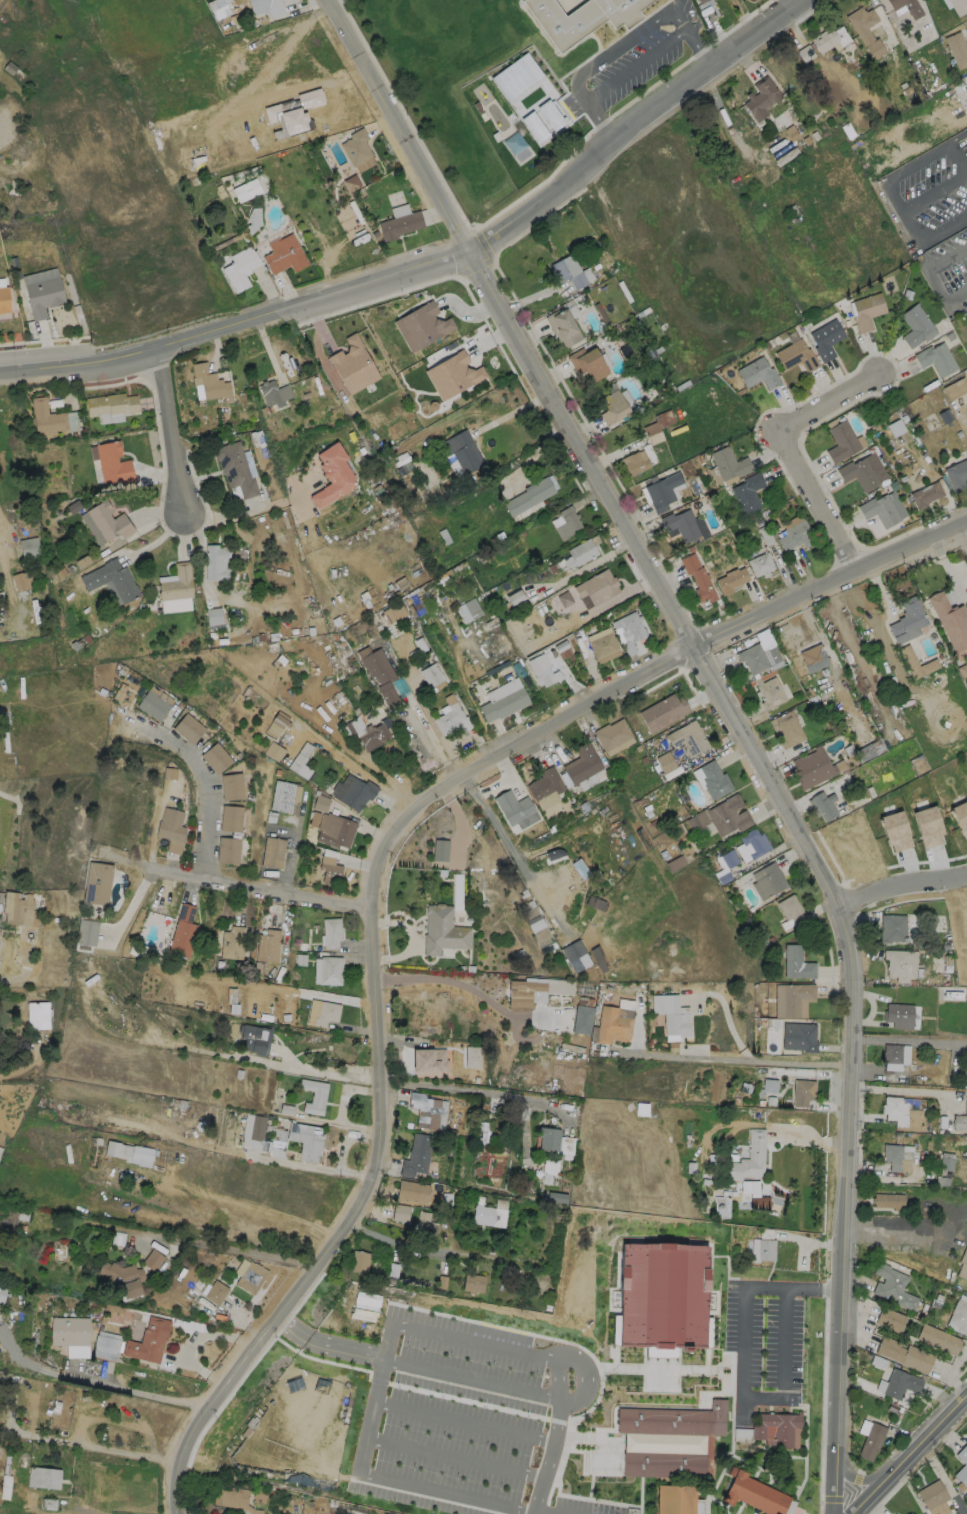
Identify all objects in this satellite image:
road: (0, 0)
building: (700, 1)
road: (790, 4)
building: (958, 6)
building: (275, 7)
building: (906, 7)
building: (220, 8)
building: (582, 19)
building: (865, 30)
building: (829, 41)
road: (621, 46)
building: (956, 49)
building: (805, 53)
building: (512, 98)
building: (761, 98)
building: (550, 114)
building: (535, 124)
road: (6, 133)
building: (966, 133)
building: (966, 139)
building: (355, 147)
building: (351, 183)
building: (246, 190)
road: (895, 195)
building: (253, 217)
building: (399, 224)
building: (284, 254)
road: (437, 262)
building: (239, 269)
building: (568, 271)
road: (932, 277)
building: (42, 296)
building: (4, 299)
building: (867, 311)
building: (421, 326)
building: (916, 326)
building: (562, 327)
building: (826, 339)
building: (796, 356)
building: (936, 359)
building: (587, 363)
building: (353, 365)
building: (757, 374)
building: (453, 375)
building: (209, 382)
building: (955, 388)
building: (271, 393)
building: (111, 404)
building: (612, 407)
building: (47, 417)
building: (657, 426)
building: (895, 427)
road: (176, 439)
building: (841, 442)
road: (791, 448)
building: (466, 452)
building: (634, 462)
building: (111, 463)
building: (729, 464)
building: (235, 468)
building: (858, 474)
building: (957, 475)
building: (332, 476)
building: (662, 491)
building: (747, 493)
building: (530, 495)
building: (925, 495)
building: (879, 510)
building: (107, 522)
building: (566, 523)
building: (680, 525)
building: (795, 535)
building: (28, 547)
road: (1, 550)
building: (579, 554)
building: (215, 562)
building: (760, 564)
building: (697, 577)
building: (731, 579)
building: (111, 580)
building: (21, 581)
building: (176, 584)
building: (597, 586)
building: (515, 597)
building: (468, 610)
building: (394, 612)
building: (213, 616)
building: (908, 619)
building: (950, 619)
building: (629, 629)
building: (603, 644)
building: (752, 658)
building: (812, 658)
building: (910, 661)
building: (375, 665)
building: (539, 668)
building: (431, 674)
building: (769, 693)
building: (504, 698)
building: (152, 704)
building: (663, 711)
building: (448, 718)
road: (730, 719)
building: (277, 723)
building: (187, 727)
building: (365, 731)
building: (788, 731)
building: (613, 733)
building: (689, 737)
road: (432, 739)
building: (274, 751)
building: (215, 757)
building: (301, 761)
building: (583, 763)
building: (667, 764)
building: (811, 767)
road: (357, 768)
building: (714, 779)
road: (501, 782)
road: (204, 784)
building: (546, 784)
building: (230, 785)
building: (353, 790)
building: (282, 796)
building: (321, 803)
building: (822, 805)
building: (515, 809)
building: (961, 815)
building: (721, 816)
building: (229, 817)
building: (170, 824)
building: (928, 825)
building: (335, 830)
building: (895, 830)
building: (752, 842)
building: (226, 849)
building: (440, 850)
building: (273, 851)
road: (515, 855)
building: (729, 859)
building: (329, 870)
road: (374, 875)
building: (770, 880)
building: (97, 882)
road: (247, 882)
road: (897, 888)
building: (594, 902)
building: (14, 906)
building: (790, 908)
building: (891, 927)
building: (443, 930)
building: (182, 931)
building: (87, 932)
building: (330, 932)
building: (541, 933)
building: (232, 942)
building: (267, 945)
building: (572, 950)
building: (796, 963)
building: (900, 963)
building: (330, 969)
road: (464, 987)
building: (535, 990)
building: (792, 999)
building: (326, 1013)
building: (670, 1014)
building: (898, 1014)
building: (38, 1015)
building: (581, 1019)
building: (611, 1025)
building: (798, 1036)
building: (255, 1038)
road: (908, 1040)
building: (894, 1055)
building: (429, 1059)
road: (730, 1059)
road: (320, 1072)
building: (764, 1076)
road: (472, 1090)
road: (898, 1090)
building: (802, 1093)
building: (313, 1095)
building: (633, 1102)
building: (894, 1109)
building: (428, 1110)
building: (960, 1118)
building: (257, 1127)
building: (546, 1137)
building: (306, 1140)
road: (346, 1141)
building: (0, 1149)
building: (129, 1152)
building: (417, 1154)
building: (897, 1156)
building: (749, 1157)
building: (947, 1161)
road: (309, 1166)
building: (548, 1166)
building: (412, 1190)
building: (754, 1195)
building: (889, 1199)
building: (400, 1212)
building: (488, 1214)
road: (247, 1216)
building: (424, 1223)
road: (894, 1231)
road: (399, 1243)
building: (765, 1248)
road: (228, 1249)
building: (153, 1260)
building: (359, 1261)
building: (963, 1263)
building: (251, 1276)
building: (123, 1279)
building: (472, 1282)
building: (892, 1285)
building: (2, 1292)
building: (216, 1292)
building: (662, 1298)
building: (358, 1300)
building: (958, 1316)
building: (890, 1318)
building: (69, 1331)
building: (938, 1338)
building: (148, 1340)
building: (105, 1345)
road: (500, 1347)
building: (904, 1353)
road: (742, 1364)
building: (315, 1375)
building: (288, 1376)
road: (557, 1376)
road: (471, 1378)
building: (900, 1382)
road: (100, 1383)
building: (673, 1420)
road: (463, 1422)
building: (776, 1428)
building: (871, 1440)
building: (330, 1442)
road: (88, 1446)
road: (454, 1457)
road: (913, 1458)
building: (23, 1464)
building: (664, 1465)
building: (962, 1466)
building: (45, 1478)
building: (7, 1479)
road: (868, 1480)
road: (386, 1481)
building: (259, 1493)
building: (754, 1493)
building: (232, 1497)
building: (933, 1497)
building: (678, 1500)
building: (50, 1505)
road: (545, 1512)
building: (894, 1513)
building: (908, 1513)

